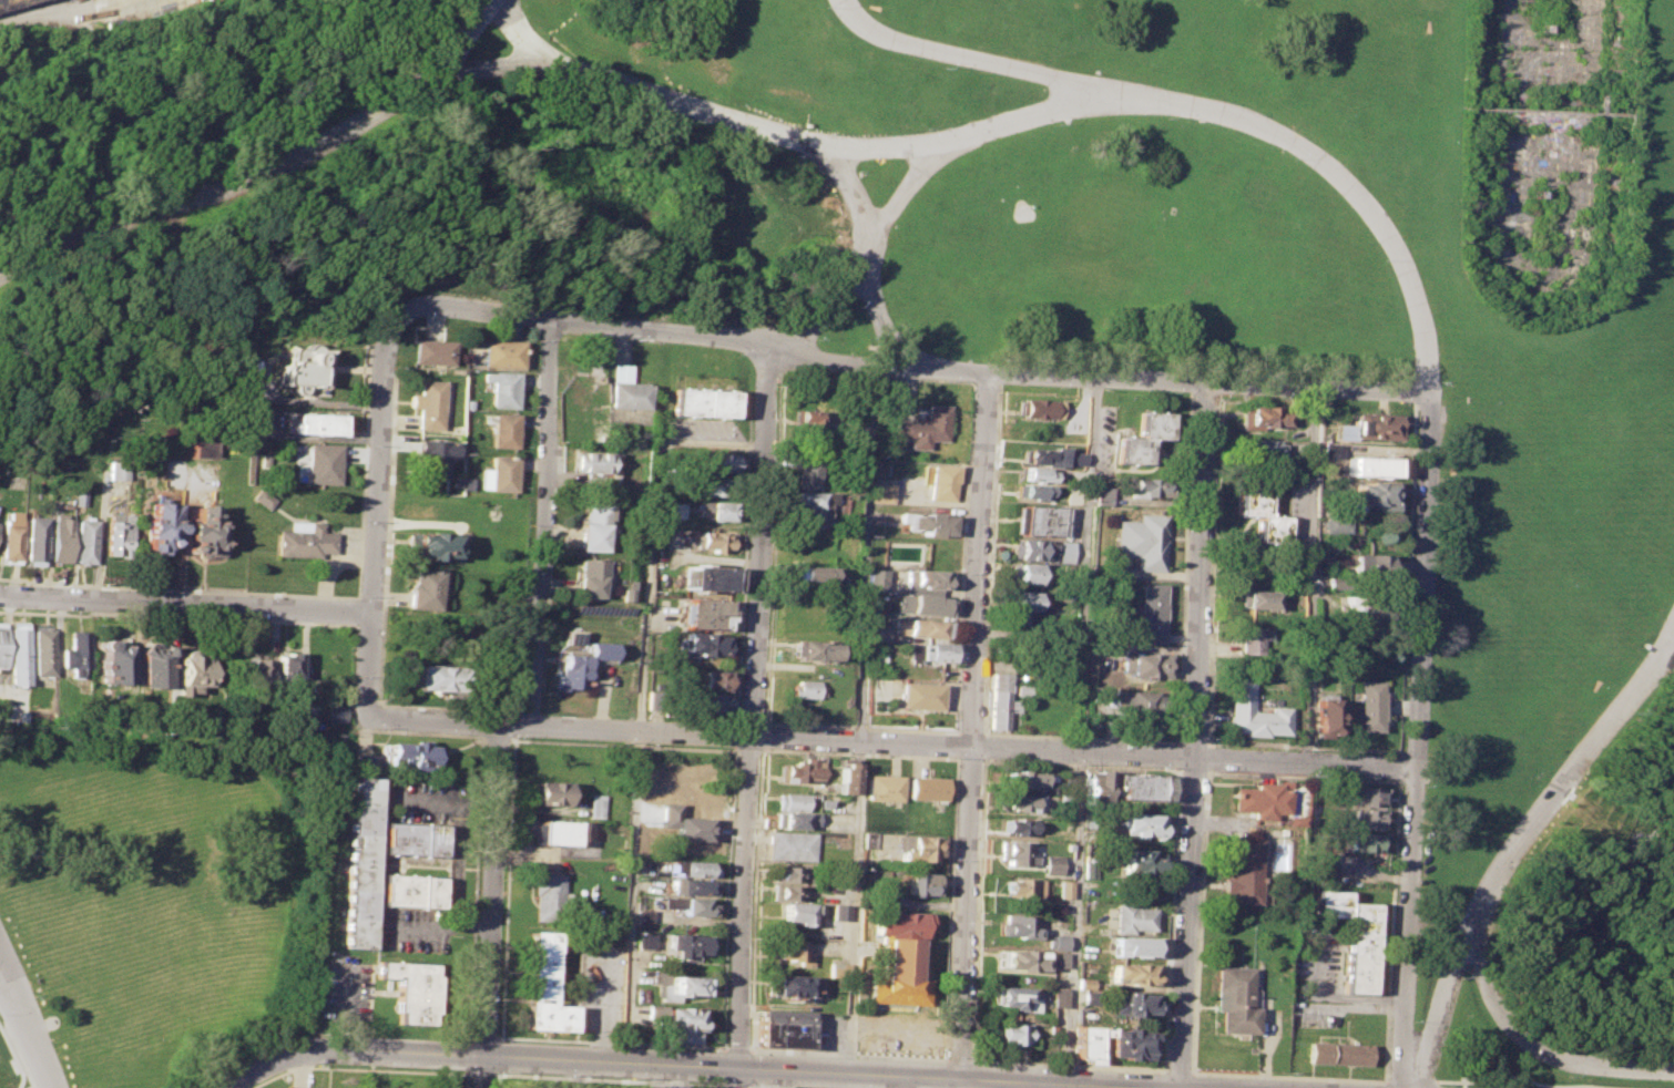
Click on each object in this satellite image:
building: (13, 3)
road: (1000, 65)
road: (496, 68)
road: (1029, 119)
road: (268, 175)
park: (1025, 212)
road: (869, 247)
road: (865, 256)
park: (1035, 314)
building: (429, 351)
building: (500, 352)
building: (302, 366)
road: (911, 368)
building: (617, 372)
road: (984, 381)
building: (500, 389)
building: (624, 393)
building: (701, 401)
building: (426, 403)
building: (1044, 408)
building: (1265, 417)
building: (804, 418)
building: (315, 423)
building: (1369, 425)
building: (926, 427)
building: (499, 428)
parking lot: (698, 433)
building: (1143, 437)
road: (700, 443)
building: (1260, 448)
building: (198, 449)
building: (1330, 449)
building: (430, 456)
building: (1040, 456)
building: (1079, 458)
building: (590, 461)
building: (717, 461)
building: (320, 463)
building: (1368, 465)
building: (115, 470)
road: (361, 470)
building: (807, 472)
building: (494, 473)
building: (1040, 473)
building: (942, 480)
building: (716, 486)
building: (1150, 487)
building: (1039, 490)
building: (886, 492)
building: (1374, 493)
building: (1104, 495)
building: (78, 497)
building: (261, 497)
building: (816, 497)
building: (674, 510)
building: (716, 510)
road: (375, 512)
building: (1262, 515)
building: (814, 517)
building: (1043, 520)
road: (537, 521)
building: (932, 522)
building: (1338, 524)
building: (159, 526)
building: (586, 526)
building: (201, 531)
building: (116, 533)
building: (9, 535)
building: (34, 537)
building: (60, 537)
building: (84, 540)
building: (304, 540)
building: (708, 540)
building: (1144, 540)
building: (430, 544)
road: (770, 545)
building: (1032, 548)
building: (1070, 551)
road: (963, 557)
road: (990, 557)
road: (741, 560)
building: (1367, 563)
road: (1184, 567)
road: (1212, 568)
building: (817, 572)
building: (1031, 573)
road: (1310, 575)
road: (1405, 576)
building: (583, 577)
building: (707, 577)
building: (928, 578)
building: (881, 579)
building: (1334, 581)
building: (423, 588)
building: (1254, 598)
building: (1032, 601)
road: (184, 603)
building: (923, 603)
road: (382, 605)
building: (702, 606)
road: (355, 609)
building: (1366, 610)
building: (1151, 612)
building: (702, 620)
building: (921, 627)
building: (880, 635)
building: (570, 636)
building: (1247, 639)
building: (2, 641)
building: (705, 643)
building: (814, 650)
building: (17, 651)
building: (42, 651)
building: (73, 651)
building: (933, 651)
building: (112, 660)
building: (579, 663)
building: (1143, 665)
building: (149, 666)
building: (287, 669)
building: (186, 671)
building: (253, 673)
building: (436, 677)
building: (711, 679)
building: (803, 688)
building: (1025, 689)
building: (921, 695)
building: (1000, 700)
building: (1135, 701)
building: (713, 702)
building: (308, 704)
building: (1367, 705)
building: (1249, 711)
building: (336, 712)
building: (16, 715)
road: (736, 717)
road: (748, 717)
road: (753, 717)
building: (1319, 717)
road: (762, 718)
road: (862, 719)
road: (514, 723)
road: (976, 725)
road: (860, 726)
road: (367, 728)
road: (1082, 729)
road: (970, 731)
road: (734, 733)
road: (763, 735)
road: (1080, 735)
road: (1194, 736)
road: (494, 737)
road: (1417, 740)
road: (1192, 741)
road: (894, 742)
road: (984, 743)
road: (1302, 743)
road: (623, 745)
road: (956, 745)
road: (749, 750)
building: (415, 752)
road: (858, 752)
road: (1177, 755)
road: (1205, 756)
road: (969, 758)
building: (363, 760)
road: (1080, 760)
road: (639, 764)
road: (1397, 764)
road: (1191, 769)
building: (799, 770)
building: (1069, 776)
road: (1397, 777)
building: (845, 778)
building: (1023, 778)
building: (1095, 784)
building: (882, 787)
building: (927, 787)
building: (1139, 787)
building: (550, 793)
building: (1364, 794)
building: (1065, 798)
building: (1257, 799)
parking lot: (422, 800)
building: (792, 800)
road: (448, 801)
building: (1015, 802)
building: (825, 803)
building: (598, 805)
building: (1364, 818)
building: (793, 819)
building: (1068, 821)
building: (1142, 824)
building: (1017, 825)
building: (553, 831)
road: (1394, 833)
building: (411, 838)
building: (1361, 841)
road: (1520, 843)
building: (790, 845)
building: (915, 846)
building: (1015, 852)
building: (1137, 860)
building: (358, 861)
building: (1051, 863)
building: (695, 868)
building: (1086, 869)
building: (1239, 869)
building: (789, 873)
building: (919, 883)
building: (693, 885)
road: (472, 887)
road: (506, 887)
building: (1022, 887)
building: (1062, 889)
building: (409, 890)
building: (787, 890)
building: (549, 896)
road: (727, 897)
road: (755, 899)
building: (1086, 903)
park: (155, 904)
road: (489, 905)
building: (692, 905)
road: (977, 906)
road: (949, 907)
building: (839, 911)
building: (800, 913)
building: (643, 917)
building: (1131, 917)
road: (1170, 918)
road: (1198, 920)
building: (897, 923)
building: (1018, 925)
parking lot: (409, 927)
road: (440, 931)
building: (1353, 935)
building: (644, 938)
building: (1055, 941)
building: (688, 944)
building: (1135, 945)
building: (796, 952)
building: (1020, 958)
building: (1059, 959)
building: (836, 968)
building: (1133, 972)
road: (14, 978)
building: (1084, 982)
building: (685, 984)
building: (792, 985)
building: (542, 986)
parking lot: (600, 986)
parking lot: (346, 989)
building: (410, 989)
building: (1013, 995)
road: (1337, 995)
building: (1059, 996)
building: (1090, 997)
building: (1235, 999)
building: (1130, 1003)
road: (600, 1007)
road: (344, 1013)
building: (680, 1024)
building: (780, 1027)
road: (33, 1030)
parking lot: (827, 1030)
building: (1013, 1031)
building: (1129, 1040)
road: (612, 1041)
building: (1085, 1041)
road: (1534, 1045)
road: (735, 1048)
building: (1339, 1051)
road: (846, 1053)
road: (497, 1054)
road: (466, 1055)
road: (957, 1059)
road: (698, 1065)
road: (721, 1065)
road: (1066, 1065)
road: (748, 1066)
traffic signals: (736, 1067)
road: (355, 1068)
road: (302, 1069)
road: (1177, 1070)
road: (1288, 1076)
road: (463, 1078)
road: (494, 1078)
road: (609, 1078)
road: (1411, 1080)
road: (906, 1081)
road: (1534, 1081)
road: (721, 1084)
park: (701, 1085)
road: (733, 1085)
road: (748, 1085)
road: (1038, 1085)
parking lot: (293, 1086)
building: (663, 1086)
road: (766, 1086)
road: (1382, 1086)
parking lot: (561, 1087)

